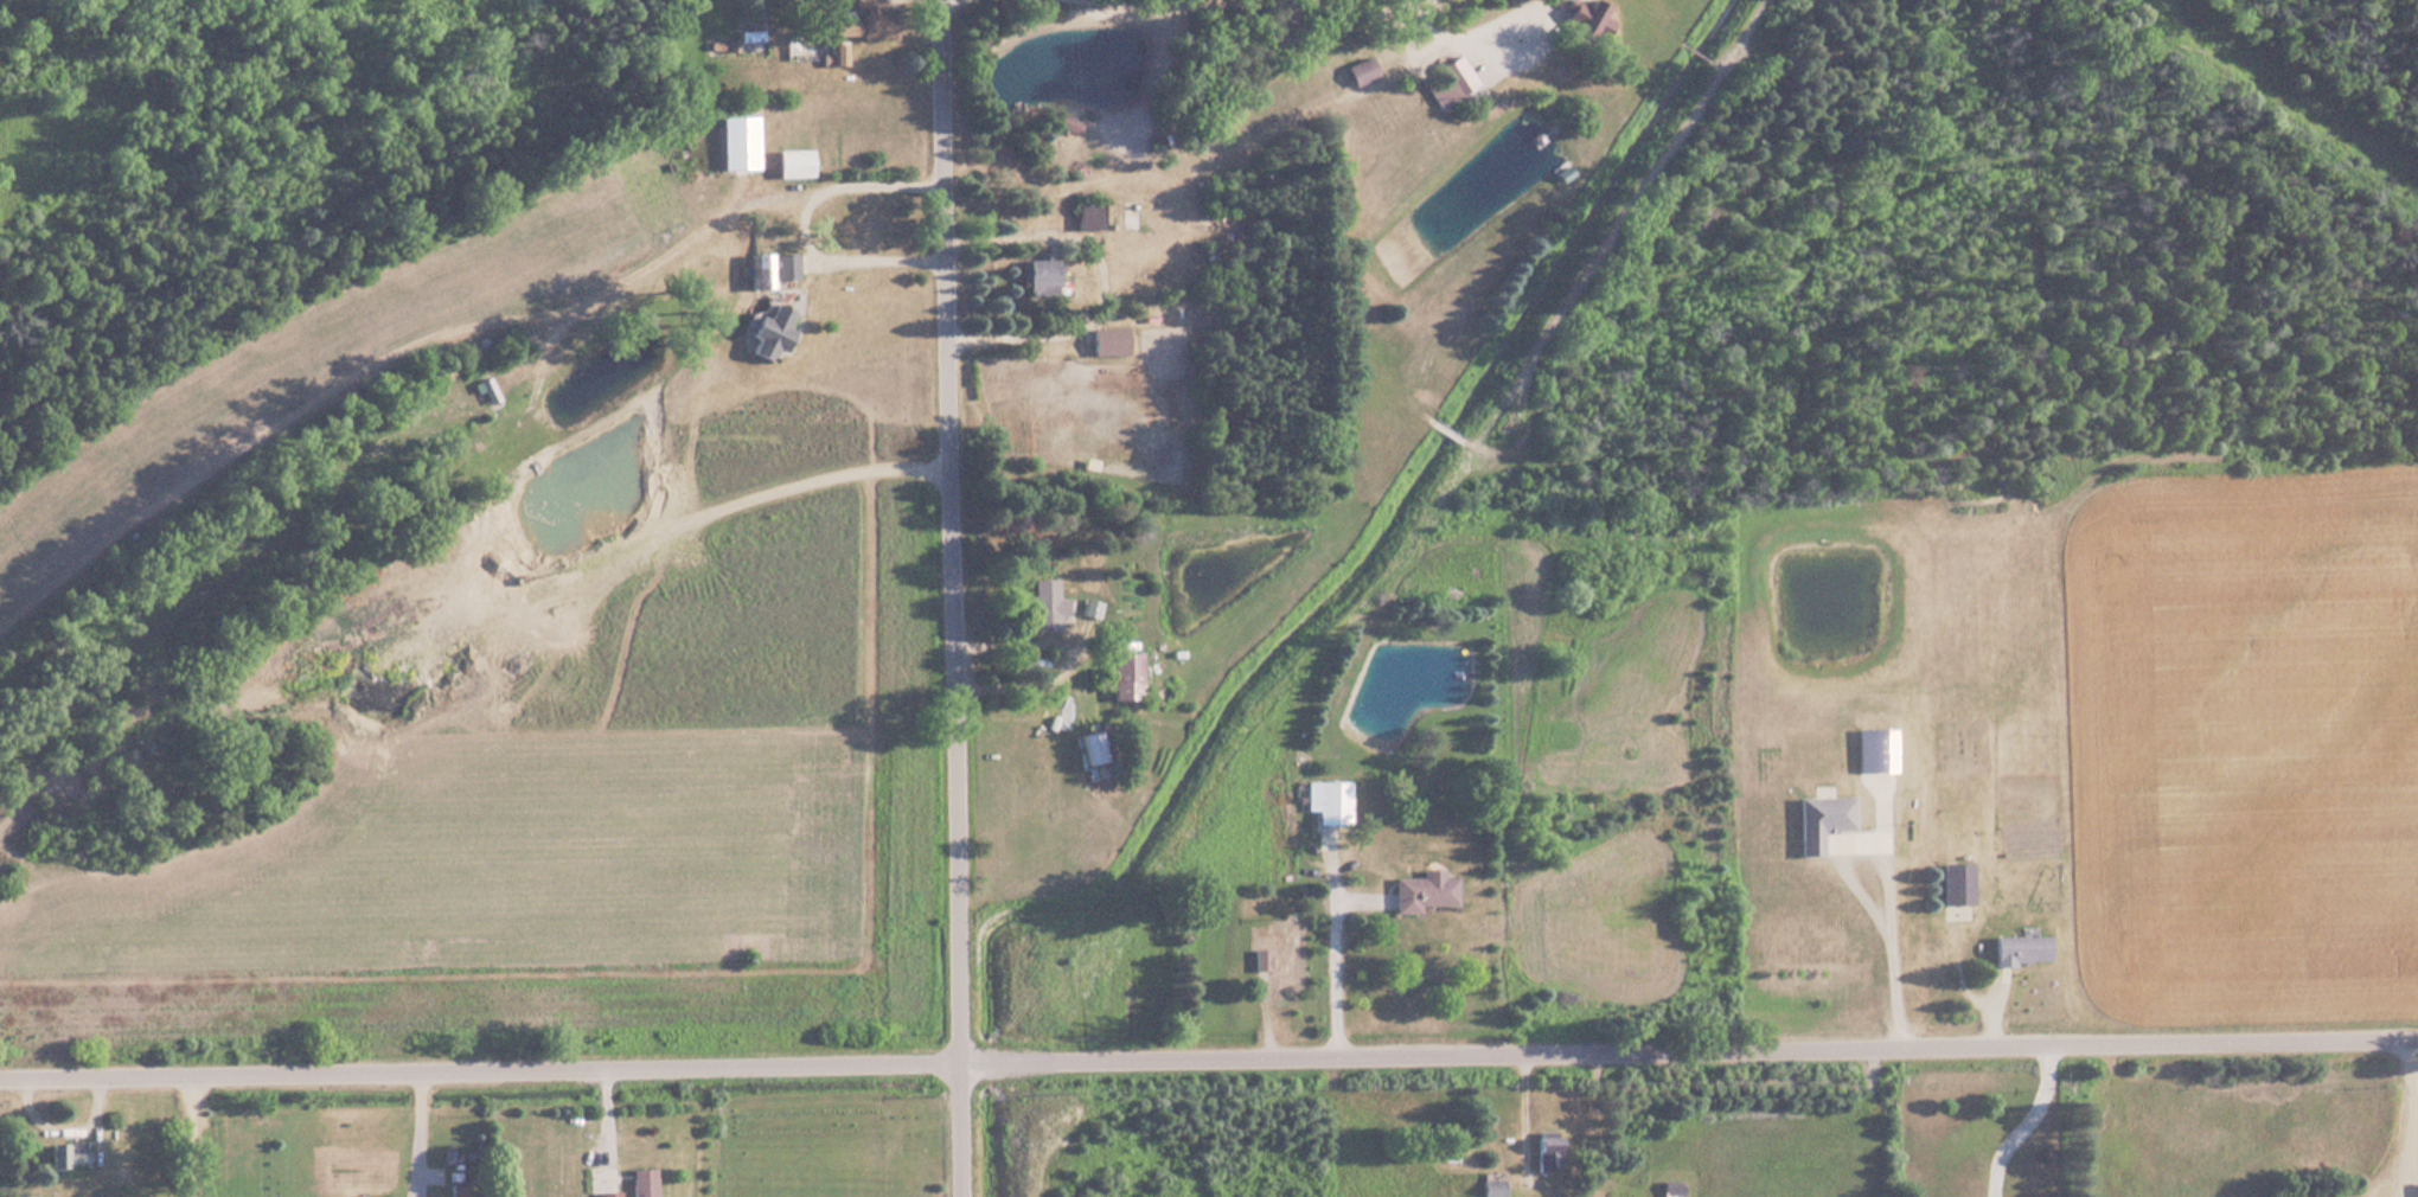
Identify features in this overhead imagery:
road: (1422, 17)
building: (1587, 21)
building: (861, 23)
road: (1537, 32)
building: (1357, 71)
building: (1445, 82)
building: (1063, 122)
building: (791, 164)
building: (1088, 215)
road: (794, 219)
building: (773, 268)
building: (1037, 277)
building: (766, 331)
building: (1106, 341)
building: (480, 430)
road: (948, 598)
building: (1043, 603)
building: (1121, 674)
building: (1324, 801)
building: (1817, 820)
building: (1955, 883)
road: (1882, 886)
building: (1420, 891)
building: (2019, 949)
building: (1275, 958)
road: (1329, 968)
road: (1208, 1067)
road: (2020, 1126)
road: (191, 1140)
building: (1544, 1151)
building: (65, 1156)
building: (641, 1183)
building: (1489, 1184)
building: (1670, 1188)
building: (430, 1191)
building: (607, 1193)

